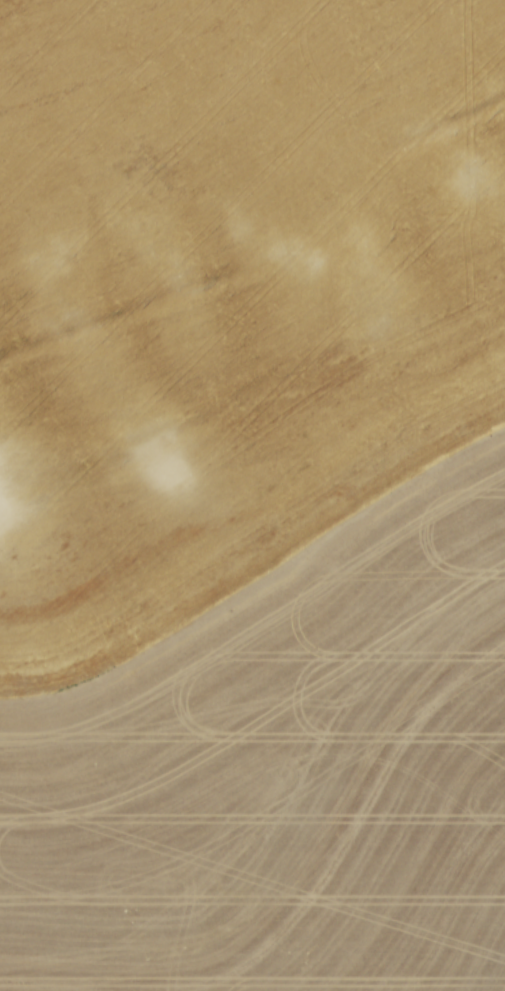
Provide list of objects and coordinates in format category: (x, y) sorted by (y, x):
crop: (252, 495)

